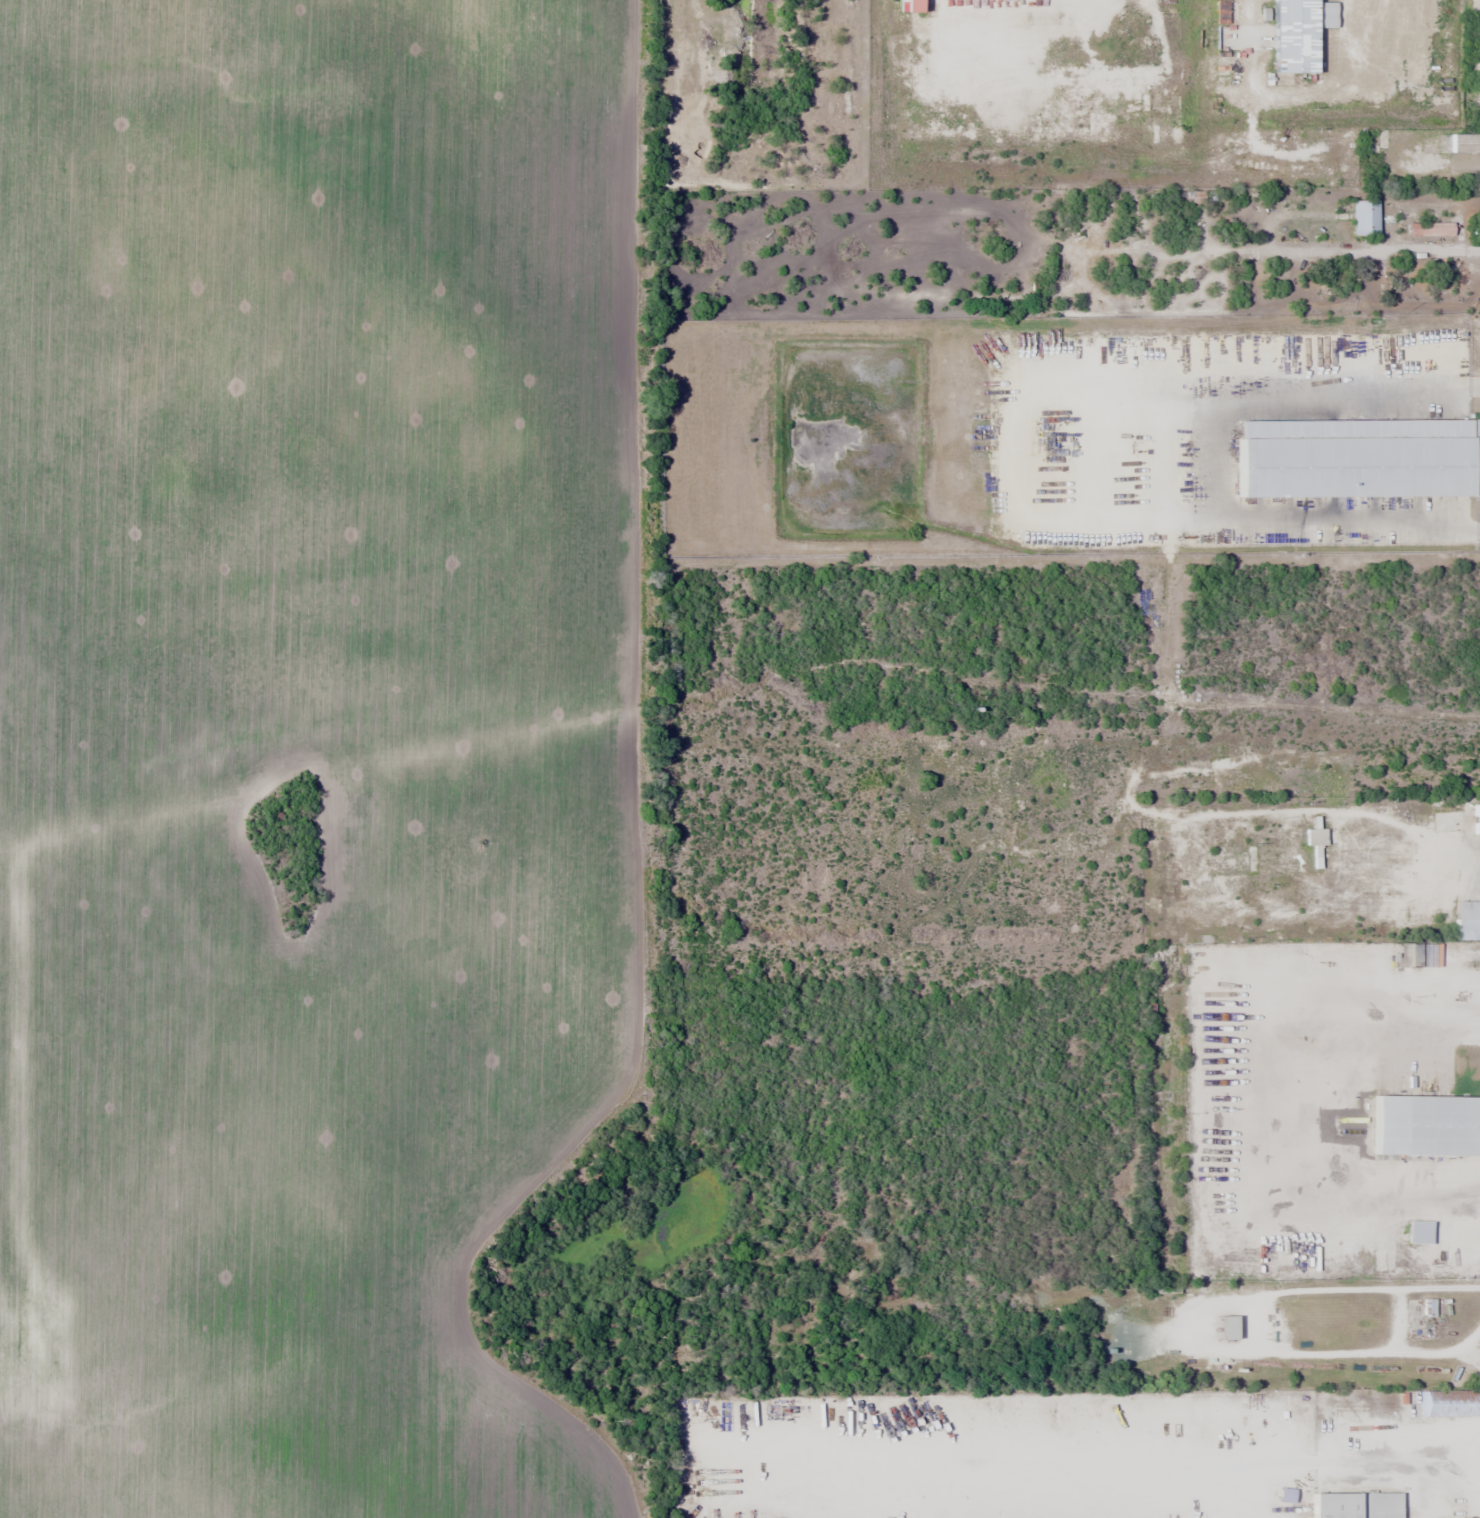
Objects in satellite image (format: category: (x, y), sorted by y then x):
building: (1293, 36)
building: (915, 89)
building: (1465, 142)
building: (1365, 217)
building: (1435, 228)
building: (1476, 819)
building: (1314, 837)
building: (1467, 921)
building: (1406, 955)
building: (1427, 1308)
building: (1224, 1328)
building: (1449, 1403)
building: (1355, 1505)

